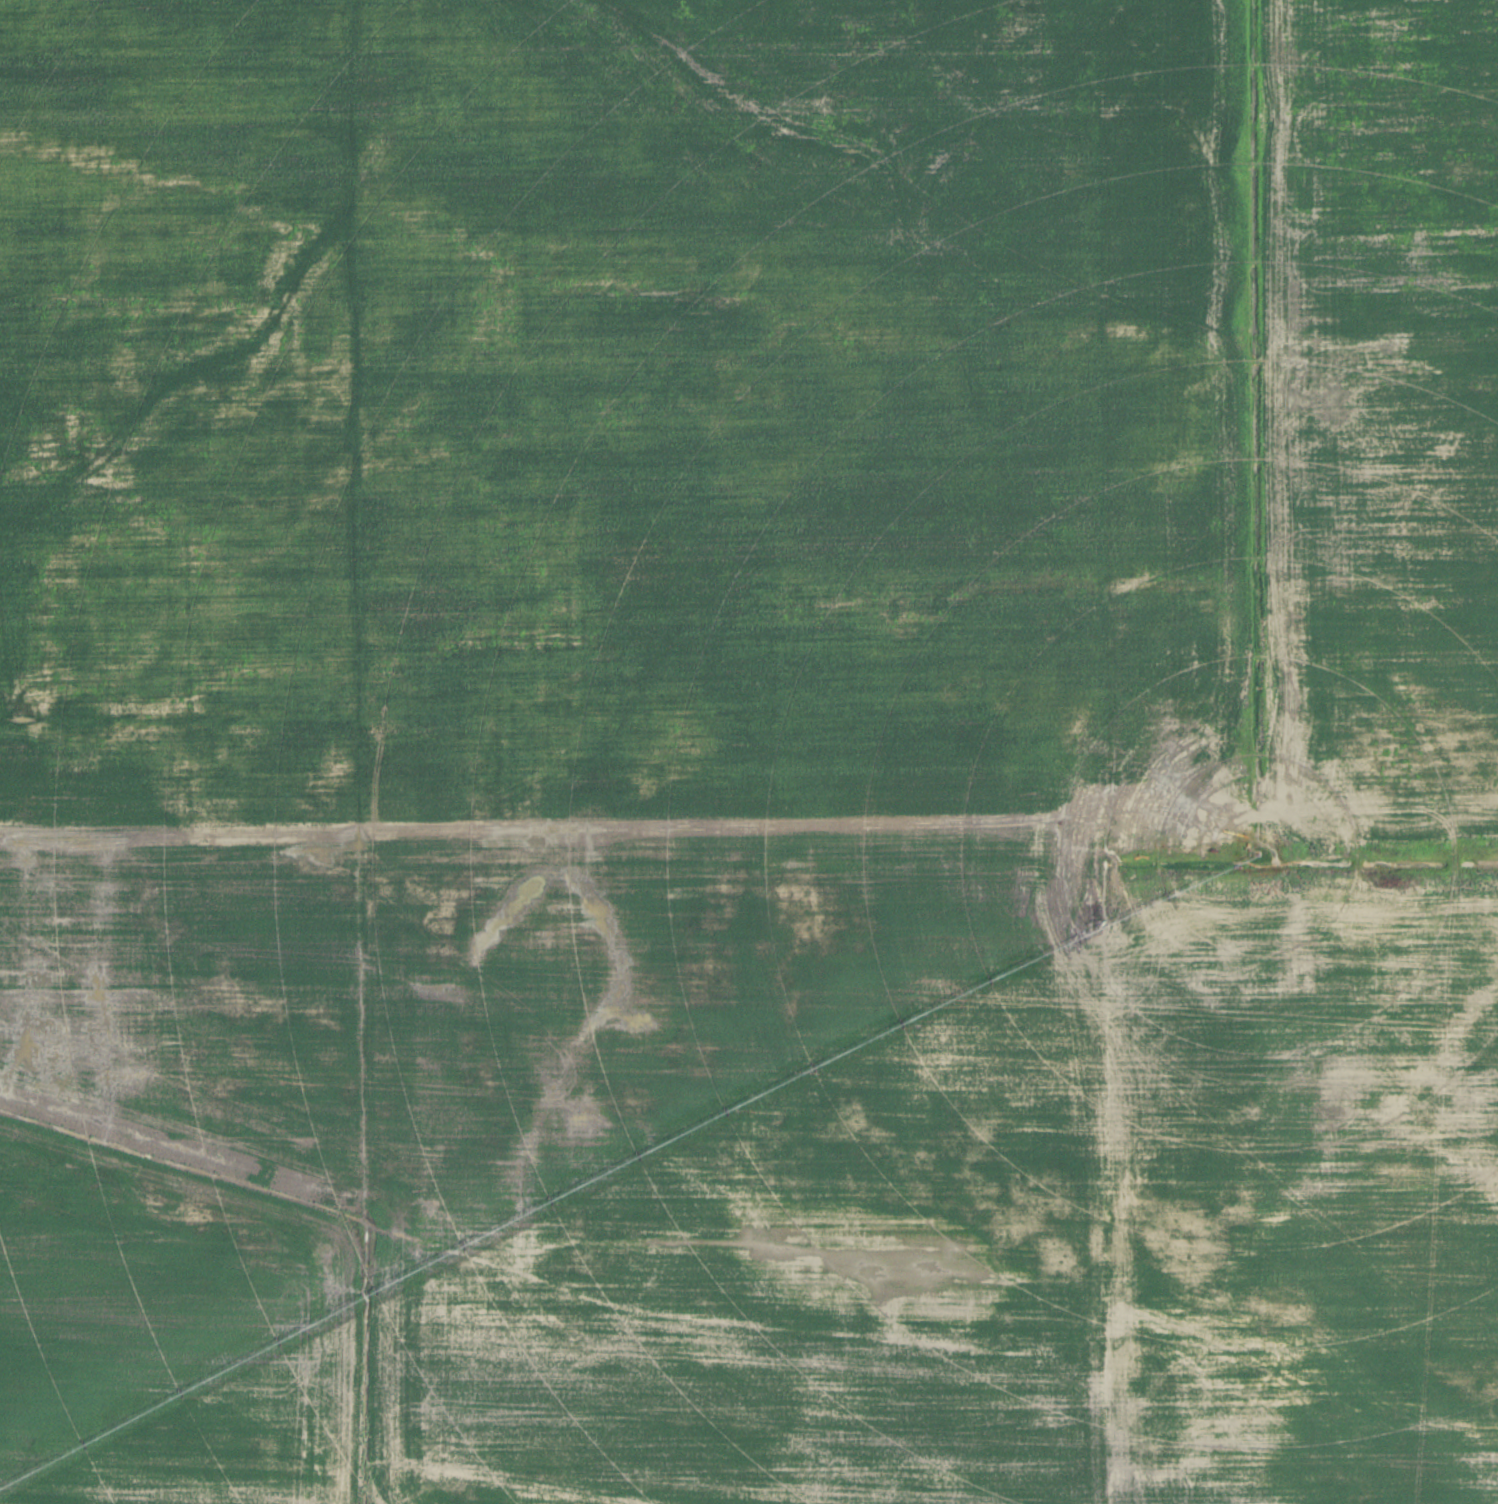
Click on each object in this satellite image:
road: (1102, 751)

